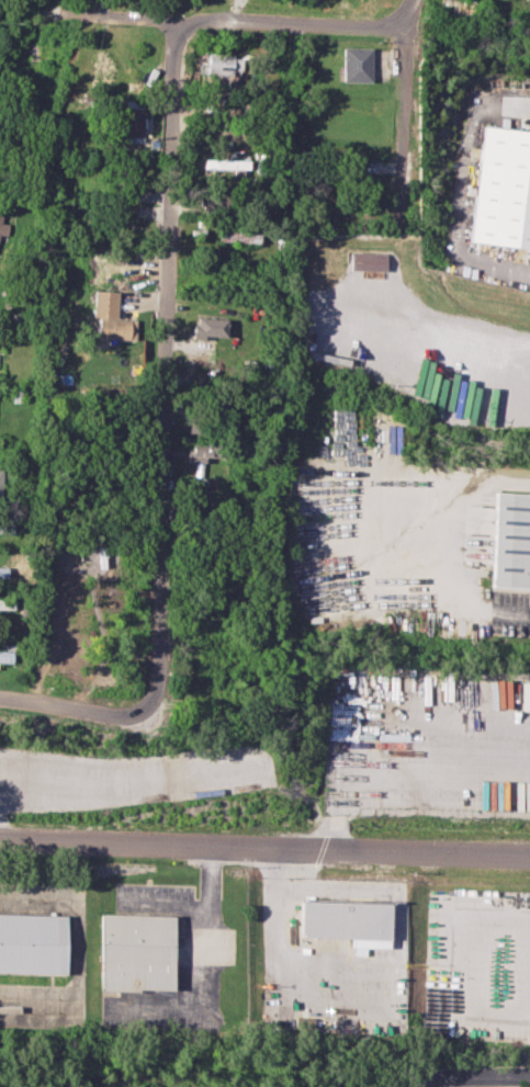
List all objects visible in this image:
road: (227, 18)
road: (403, 48)
building: (237, 60)
building: (218, 64)
building: (356, 64)
building: (134, 121)
road: (401, 159)
building: (227, 165)
building: (505, 189)
road: (464, 194)
building: (3, 229)
building: (240, 235)
building: (370, 260)
building: (104, 303)
road: (430, 324)
building: (210, 327)
building: (116, 328)
road: (165, 365)
building: (202, 451)
building: (0, 480)
building: (4, 526)
building: (514, 539)
road: (458, 544)
building: (2, 571)
building: (7, 603)
building: (5, 656)
road: (61, 705)
road: (132, 714)
road: (439, 741)
parking lot: (430, 743)
parking lot: (128, 778)
parking lot: (128, 778)
road: (264, 847)
road: (369, 890)
road: (160, 906)
building: (343, 921)
building: (33, 943)
building: (138, 951)
road: (270, 966)
road: (202, 973)
road: (460, 1069)

